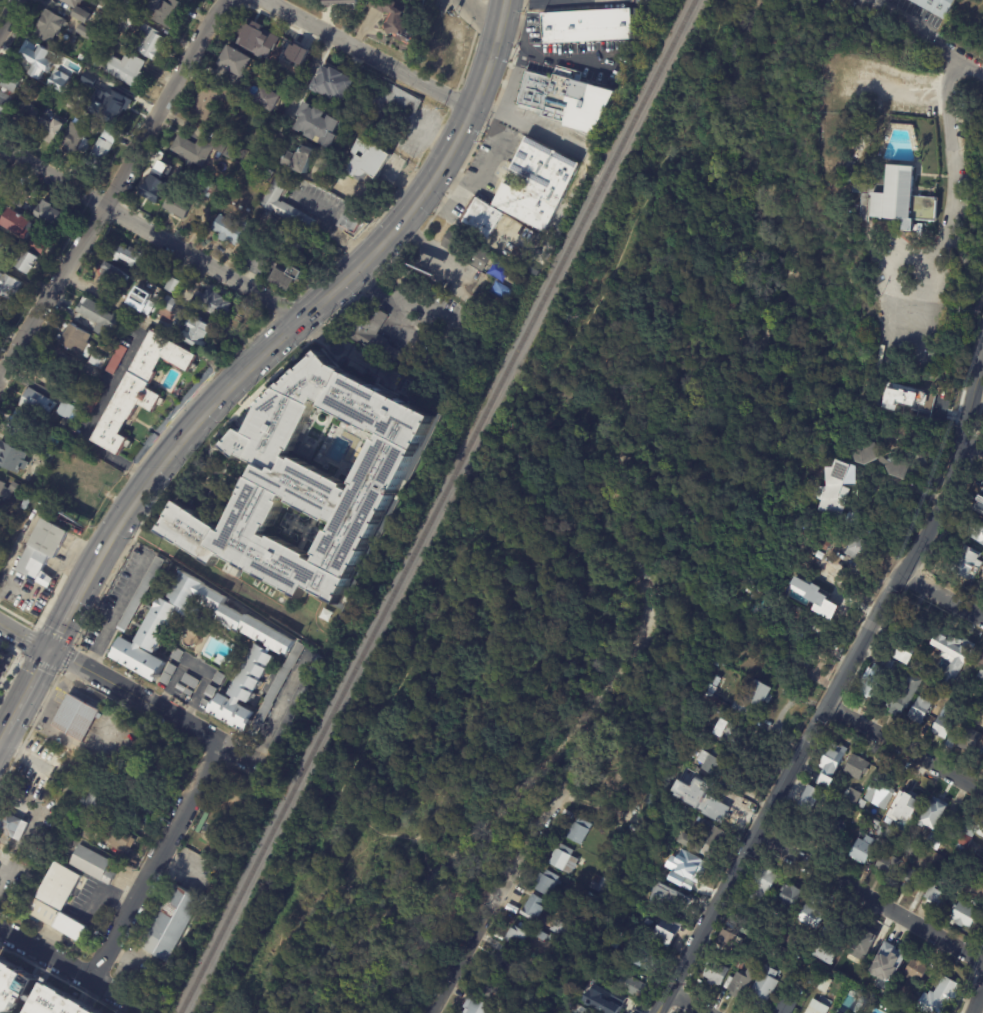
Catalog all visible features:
building: (190, 0)
building: (414, 0)
road: (565, 0)
building: (89, 1)
road: (563, 1)
building: (71, 2)
building: (125, 2)
building: (343, 3)
building: (938, 6)
building: (161, 12)
road: (9, 15)
building: (82, 16)
road: (482, 17)
building: (398, 19)
building: (125, 21)
building: (49, 25)
building: (584, 25)
park: (965, 29)
building: (83, 31)
road: (923, 35)
building: (263, 40)
building: (73, 41)
building: (149, 42)
building: (296, 53)
road: (368, 53)
road: (559, 54)
building: (35, 58)
building: (80, 58)
building: (234, 64)
road: (312, 64)
building: (125, 70)
road: (499, 73)
road: (512, 75)
building: (88, 79)
building: (9, 81)
building: (58, 81)
building: (101, 82)
building: (333, 84)
building: (25, 88)
building: (566, 99)
building: (270, 101)
building: (4, 102)
building: (210, 102)
building: (114, 104)
building: (390, 104)
building: (69, 106)
building: (26, 112)
road: (529, 123)
building: (318, 126)
building: (38, 131)
building: (74, 141)
building: (106, 142)
building: (197, 149)
building: (234, 153)
road: (493, 154)
building: (300, 160)
building: (365, 160)
building: (161, 164)
building: (852, 165)
road: (951, 165)
building: (269, 175)
road: (52, 176)
building: (851, 177)
building: (225, 182)
building: (536, 182)
building: (4, 186)
building: (151, 187)
building: (232, 187)
road: (113, 189)
building: (209, 190)
building: (19, 198)
building: (897, 198)
building: (284, 203)
building: (176, 207)
building: (44, 212)
building: (353, 219)
building: (482, 219)
building: (16, 224)
building: (230, 230)
road: (413, 233)
road: (732, 237)
building: (0, 244)
building: (291, 245)
building: (36, 246)
building: (467, 252)
building: (519, 257)
building: (23, 260)
building: (134, 261)
road: (445, 261)
road: (201, 262)
building: (287, 273)
building: (109, 276)
road: (724, 279)
building: (503, 280)
building: (9, 285)
building: (173, 286)
road: (316, 302)
road: (395, 304)
building: (169, 305)
building: (212, 305)
building: (1, 308)
building: (146, 308)
road: (826, 311)
building: (101, 320)
building: (371, 332)
building: (198, 333)
building: (76, 341)
road: (346, 355)
building: (116, 360)
building: (96, 361)
road: (125, 369)
building: (56, 376)
building: (140, 390)
building: (907, 395)
building: (76, 397)
building: (92, 403)
building: (38, 405)
building: (65, 411)
road: (617, 421)
building: (17, 422)
road: (972, 442)
road: (535, 443)
building: (12, 456)
building: (881, 456)
building: (308, 482)
building: (8, 488)
building: (63, 489)
building: (837, 489)
power tower: (936, 489)
building: (23, 504)
building: (979, 505)
railway: (435, 506)
building: (859, 517)
building: (978, 533)
road: (531, 539)
park: (571, 541)
road: (922, 541)
building: (826, 545)
building: (861, 549)
building: (41, 551)
building: (821, 556)
building: (972, 566)
building: (982, 569)
road: (219, 577)
power tower: (901, 593)
building: (140, 595)
road: (941, 595)
building: (813, 597)
road: (64, 612)
road: (115, 612)
road: (302, 612)
building: (917, 623)
building: (814, 625)
road: (23, 634)
building: (908, 645)
traffic signals: (46, 648)
building: (277, 653)
building: (176, 655)
building: (955, 655)
building: (4, 659)
road: (16, 660)
road: (193, 667)
building: (981, 668)
building: (166, 675)
building: (880, 677)
building: (219, 679)
building: (189, 682)
building: (928, 682)
building: (179, 688)
building: (710, 689)
road: (25, 690)
building: (210, 692)
building: (907, 692)
building: (188, 694)
road: (497, 694)
building: (755, 699)
building: (296, 703)
building: (205, 704)
road: (279, 708)
road: (156, 709)
building: (922, 710)
building: (75, 717)
power tower: (829, 723)
building: (944, 724)
building: (730, 731)
road: (2, 737)
building: (972, 739)
building: (952, 743)
road: (904, 748)
building: (834, 758)
building: (716, 762)
building: (858, 767)
building: (703, 782)
building: (827, 782)
building: (882, 786)
building: (894, 789)
building: (853, 796)
building: (811, 798)
building: (656, 800)
building: (100, 803)
building: (862, 805)
building: (712, 806)
building: (907, 806)
building: (881, 811)
building: (935, 814)
building: (137, 815)
building: (672, 818)
building: (877, 823)
building: (12, 825)
building: (578, 831)
building: (881, 831)
building: (888, 833)
building: (970, 833)
building: (104, 834)
building: (702, 836)
building: (934, 842)
building: (552, 843)
building: (912, 847)
building: (863, 849)
building: (879, 850)
power tower: (755, 857)
road: (738, 858)
road: (154, 860)
building: (563, 860)
building: (889, 861)
building: (937, 862)
building: (90, 863)
building: (978, 864)
building: (690, 868)
road: (451, 871)
building: (911, 881)
building: (546, 883)
building: (596, 885)
building: (762, 886)
building: (974, 887)
building: (936, 894)
road: (869, 895)
building: (670, 897)
building: (790, 897)
road: (492, 898)
building: (54, 900)
building: (684, 903)
building: (534, 907)
building: (743, 907)
building: (816, 908)
building: (965, 916)
building: (810, 917)
building: (169, 923)
building: (775, 930)
building: (668, 932)
road: (347, 934)
building: (541, 936)
building: (517, 937)
building: (728, 940)
building: (865, 943)
building: (561, 944)
building: (824, 954)
building: (646, 956)
building: (889, 962)
building: (501, 964)
building: (740, 964)
road: (72, 968)
building: (916, 971)
building: (717, 974)
building: (814, 979)
power tower: (688, 983)
building: (742, 984)
building: (823, 984)
building: (765, 986)
building: (634, 987)
building: (13, 988)
building: (491, 988)
building: (944, 993)
road: (977, 998)
building: (60, 1002)
road: (684, 1002)
building: (912, 1002)
building: (787, 1004)
building: (614, 1005)
building: (862, 1005)
building: (478, 1007)
building: (818, 1007)

